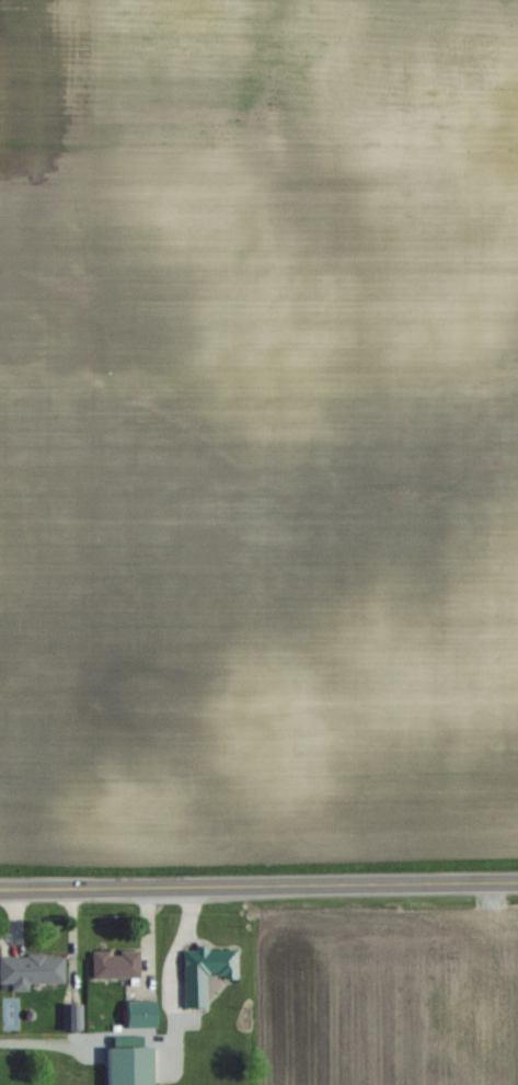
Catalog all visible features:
road: (258, 884)
building: (116, 964)
building: (31, 970)
building: (205, 971)
building: (141, 1014)
building: (72, 1017)
road: (35, 1046)
building: (129, 1065)

